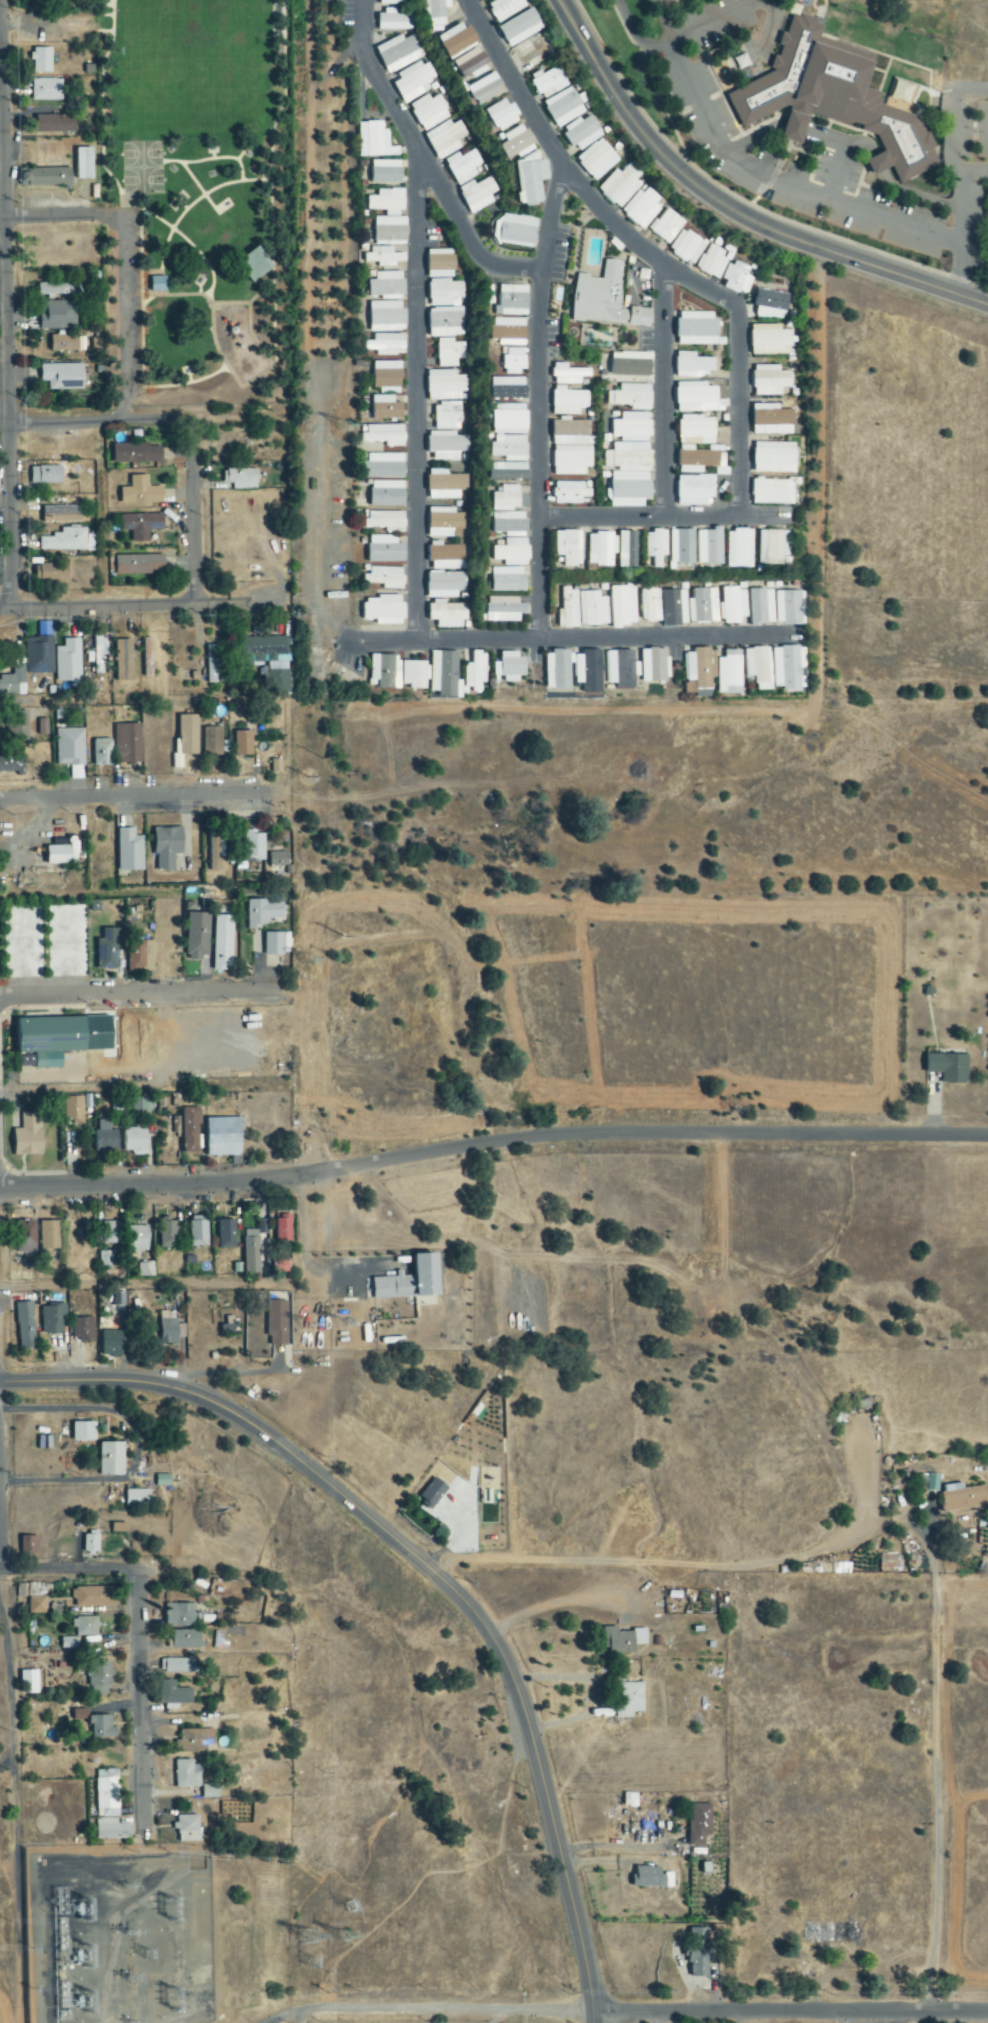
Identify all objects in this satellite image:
building: (387, 2)
building: (504, 8)
building: (436, 12)
building: (393, 21)
road: (711, 22)
road: (1, 23)
road: (665, 24)
road: (766, 25)
building: (519, 28)
road: (633, 32)
building: (456, 40)
building: (533, 52)
building: (398, 53)
building: (43, 60)
building: (471, 64)
building: (413, 82)
building: (548, 83)
building: (485, 89)
building: (47, 90)
building: (830, 98)
building: (563, 107)
building: (429, 112)
building: (502, 115)
building: (56, 124)
building: (582, 133)
building: (445, 139)
building: (374, 141)
building: (518, 143)
parking lot: (727, 148)
park: (142, 154)
road: (421, 160)
building: (597, 160)
building: (84, 164)
building: (462, 167)
building: (385, 173)
building: (45, 178)
road: (572, 179)
park: (143, 180)
building: (531, 180)
building: (620, 186)
road: (807, 192)
building: (477, 194)
park: (193, 201)
building: (386, 203)
building: (642, 209)
road: (729, 210)
road: (61, 218)
building: (666, 226)
building: (515, 231)
building: (686, 247)
building: (384, 260)
building: (712, 261)
building: (251, 264)
building: (440, 264)
building: (736, 279)
building: (159, 283)
building: (385, 285)
building: (56, 290)
road: (195, 294)
building: (445, 294)
building: (605, 300)
building: (512, 301)
parking lot: (128, 302)
road: (7, 304)
building: (771, 305)
building: (56, 316)
building: (386, 317)
road: (122, 318)
building: (445, 322)
building: (697, 329)
building: (508, 332)
building: (769, 341)
building: (385, 345)
building: (449, 352)
building: (514, 362)
building: (631, 365)
building: (693, 366)
building: (386, 375)
building: (568, 375)
building: (62, 377)
building: (770, 381)
road: (246, 384)
building: (445, 385)
building: (508, 389)
road: (662, 390)
road: (414, 394)
building: (632, 397)
building: (697, 398)
building: (568, 401)
road: (540, 404)
building: (385, 409)
road: (736, 411)
road: (5, 412)
building: (446, 416)
road: (102, 419)
building: (509, 419)
building: (772, 420)
power tower: (350, 427)
power tower: (315, 428)
building: (632, 428)
building: (383, 436)
building: (695, 445)
building: (446, 446)
building: (571, 448)
building: (509, 449)
building: (133, 453)
building: (629, 458)
building: (774, 459)
building: (383, 466)
building: (46, 476)
building: (240, 479)
building: (445, 485)
building: (629, 490)
building: (694, 491)
building: (140, 492)
building: (771, 492)
building: (569, 493)
building: (386, 494)
building: (506, 499)
road: (196, 511)
road: (102, 513)
building: (61, 515)
road: (663, 516)
building: (384, 521)
building: (445, 523)
building: (508, 524)
building: (141, 526)
building: (64, 541)
building: (656, 547)
building: (569, 548)
building: (710, 548)
building: (773, 548)
building: (681, 549)
building: (385, 550)
building: (602, 550)
building: (740, 550)
building: (511, 553)
building: (446, 556)
building: (139, 565)
building: (51, 569)
building: (386, 578)
building: (507, 580)
building: (445, 585)
road: (139, 605)
building: (651, 606)
building: (703, 606)
building: (733, 606)
building: (623, 607)
building: (762, 607)
building: (675, 608)
building: (788, 608)
building: (592, 609)
building: (503, 610)
building: (568, 610)
building: (382, 611)
building: (447, 615)
road: (572, 639)
building: (38, 655)
building: (97, 656)
building: (147, 657)
building: (123, 660)
building: (68, 661)
building: (212, 664)
building: (654, 665)
building: (511, 666)
building: (758, 667)
building: (621, 668)
building: (789, 668)
building: (558, 670)
building: (588, 670)
building: (385, 671)
building: (476, 671)
building: (701, 671)
building: (730, 673)
building: (414, 674)
building: (445, 674)
building: (13, 683)
building: (18, 726)
building: (185, 737)
building: (214, 741)
building: (127, 743)
building: (243, 743)
building: (69, 747)
building: (102, 752)
building: (12, 761)
building: (275, 766)
building: (75, 773)
road: (142, 798)
building: (254, 846)
building: (167, 847)
building: (129, 850)
building: (215, 850)
building: (62, 852)
building: (278, 862)
road: (115, 892)
building: (263, 912)
building: (197, 936)
building: (222, 942)
building: (273, 943)
building: (109, 948)
building: (140, 956)
power tower: (321, 962)
power tower: (350, 964)
road: (136, 993)
building: (51, 1035)
building: (949, 1067)
road: (144, 1087)
building: (132, 1104)
building: (73, 1109)
building: (190, 1131)
building: (28, 1136)
building: (223, 1137)
building: (103, 1138)
road: (492, 1141)
building: (135, 1142)
building: (284, 1229)
building: (25, 1233)
building: (112, 1233)
building: (167, 1234)
building: (197, 1234)
building: (226, 1234)
building: (49, 1235)
building: (137, 1239)
building: (252, 1248)
building: (106, 1260)
building: (145, 1269)
building: (410, 1281)
road: (135, 1284)
building: (269, 1297)
building: (53, 1319)
building: (276, 1324)
building: (25, 1325)
power tower: (320, 1325)
power tower: (353, 1326)
building: (82, 1329)
building: (171, 1329)
building: (227, 1329)
building: (111, 1343)
building: (83, 1432)
building: (111, 1459)
road: (64, 1480)
building: (929, 1482)
building: (433, 1493)
building: (965, 1497)
building: (137, 1498)
building: (119, 1526)
building: (91, 1544)
road: (655, 1562)
road: (142, 1569)
road: (430, 1571)
building: (94, 1597)
building: (36, 1605)
building: (177, 1615)
building: (84, 1627)
building: (185, 1640)
building: (622, 1641)
building: (177, 1666)
building: (99, 1678)
building: (28, 1682)
building: (174, 1694)
building: (630, 1700)
road: (141, 1705)
building: (101, 1728)
building: (194, 1741)
road: (931, 1772)
building: (187, 1775)
building: (210, 1791)
building: (107, 1794)
building: (630, 1801)
building: (700, 1824)
building: (187, 1829)
building: (111, 1830)
building: (651, 1879)
power tower: (363, 1912)
power substation: (131, 1940)
power tower: (317, 1948)
power tower: (351, 1952)
building: (697, 1953)
power tower: (332, 1978)
road: (625, 2013)

